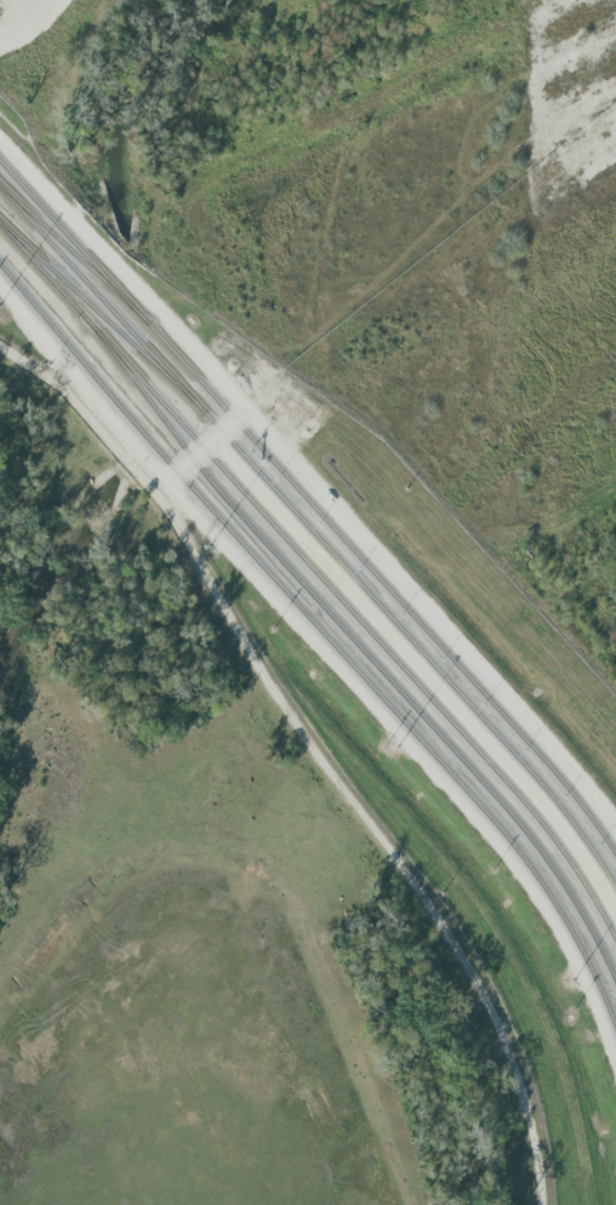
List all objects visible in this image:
road: (22, 22)
road: (198, 450)
road: (310, 485)
railway: (314, 538)
railway: (327, 640)
road: (314, 750)

